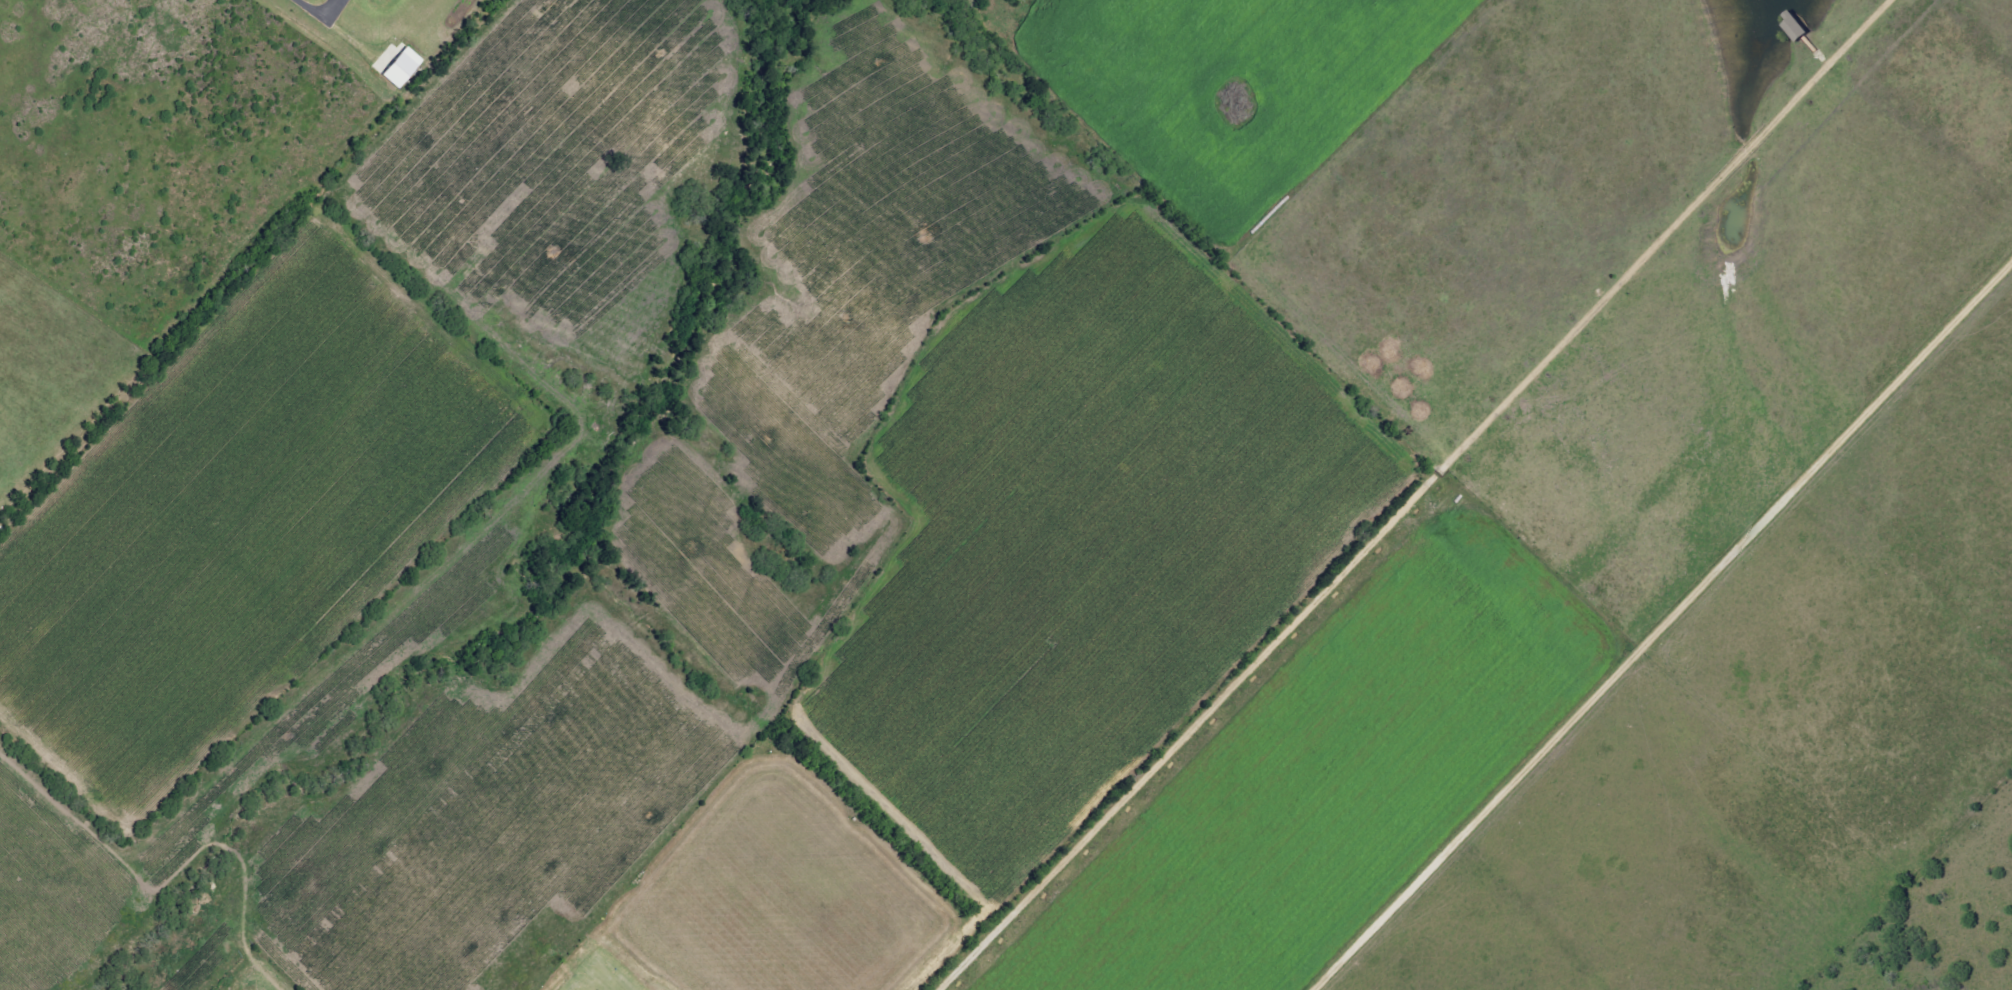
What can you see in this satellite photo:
road: (315, 13)
building: (1795, 25)
building: (400, 67)
road: (1429, 495)
road: (1668, 632)

